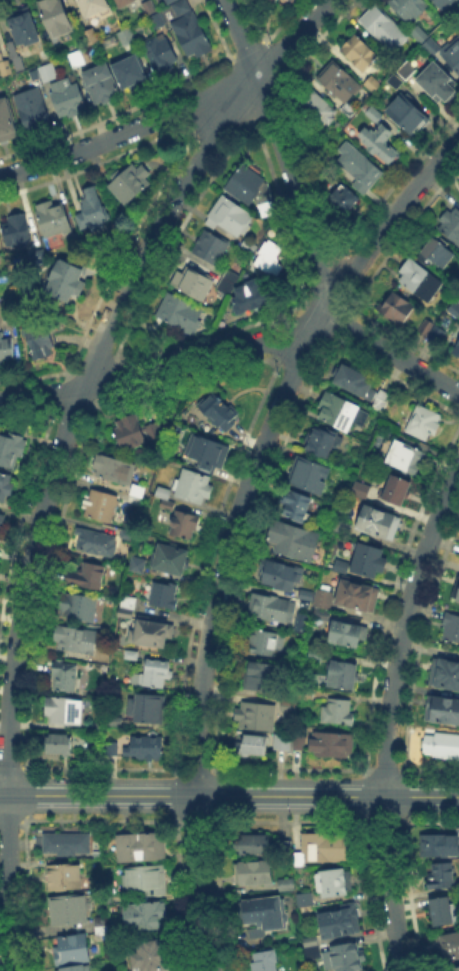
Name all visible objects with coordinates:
building: (170, 1)
building: (276, 1)
building: (447, 3)
building: (138, 6)
building: (96, 8)
building: (410, 8)
building: (55, 17)
building: (155, 22)
building: (385, 30)
building: (26, 31)
building: (187, 32)
building: (91, 38)
building: (126, 38)
building: (360, 53)
building: (453, 54)
building: (160, 55)
building: (78, 59)
building: (5, 66)
building: (46, 70)
building: (130, 73)
building: (402, 76)
building: (36, 79)
building: (341, 83)
building: (374, 84)
building: (438, 84)
building: (102, 86)
building: (68, 100)
building: (317, 109)
building: (34, 112)
building: (376, 114)
building: (410, 115)
building: (7, 124)
road: (115, 134)
building: (380, 141)
building: (324, 147)
road: (281, 151)
building: (359, 169)
building: (127, 181)
building: (242, 183)
building: (344, 200)
building: (90, 208)
building: (230, 215)
building: (50, 216)
building: (450, 226)
building: (13, 227)
building: (210, 245)
building: (267, 254)
building: (437, 254)
building: (62, 278)
building: (190, 280)
building: (225, 280)
building: (420, 282)
building: (246, 295)
building: (397, 309)
building: (455, 310)
building: (178, 311)
building: (433, 332)
building: (37, 338)
building: (6, 345)
building: (457, 351)
road: (392, 352)
road: (156, 370)
building: (355, 379)
building: (216, 409)
building: (335, 410)
building: (421, 420)
building: (135, 434)
building: (318, 440)
building: (10, 448)
building: (206, 448)
road: (58, 449)
building: (404, 456)
building: (111, 467)
building: (306, 473)
building: (3, 483)
building: (190, 483)
building: (394, 487)
building: (358, 488)
building: (134, 489)
building: (161, 490)
building: (293, 504)
building: (102, 505)
building: (0, 515)
building: (375, 520)
building: (182, 523)
road: (234, 525)
building: (341, 525)
building: (126, 533)
building: (290, 538)
building: (94, 541)
building: (339, 541)
building: (168, 557)
building: (366, 558)
building: (339, 564)
building: (136, 567)
building: (278, 572)
building: (83, 573)
building: (161, 592)
building: (457, 593)
building: (355, 594)
building: (304, 597)
building: (322, 597)
building: (131, 604)
building: (76, 605)
building: (269, 605)
building: (320, 612)
building: (126, 616)
building: (449, 626)
building: (149, 630)
building: (343, 632)
building: (74, 638)
building: (263, 642)
building: (129, 652)
building: (313, 653)
building: (293, 657)
building: (151, 671)
building: (259, 672)
building: (340, 672)
building: (444, 672)
building: (61, 674)
building: (308, 695)
building: (285, 704)
building: (146, 706)
building: (441, 708)
building: (63, 709)
building: (335, 709)
building: (254, 714)
road: (388, 715)
building: (295, 738)
building: (279, 740)
building: (56, 741)
building: (330, 741)
building: (251, 742)
building: (441, 744)
building: (145, 746)
building: (109, 747)
road: (229, 796)
building: (61, 841)
building: (251, 843)
building: (438, 843)
building: (137, 844)
building: (282, 845)
building: (324, 845)
building: (297, 858)
building: (253, 871)
building: (63, 874)
building: (437, 874)
building: (141, 879)
building: (329, 880)
building: (284, 883)
building: (302, 897)
building: (66, 908)
building: (441, 908)
building: (260, 911)
building: (143, 914)
building: (337, 919)
building: (308, 939)
building: (448, 944)
building: (68, 946)
building: (310, 951)
building: (150, 954)
building: (341, 956)
building: (263, 960)
building: (72, 968)
building: (451, 968)

